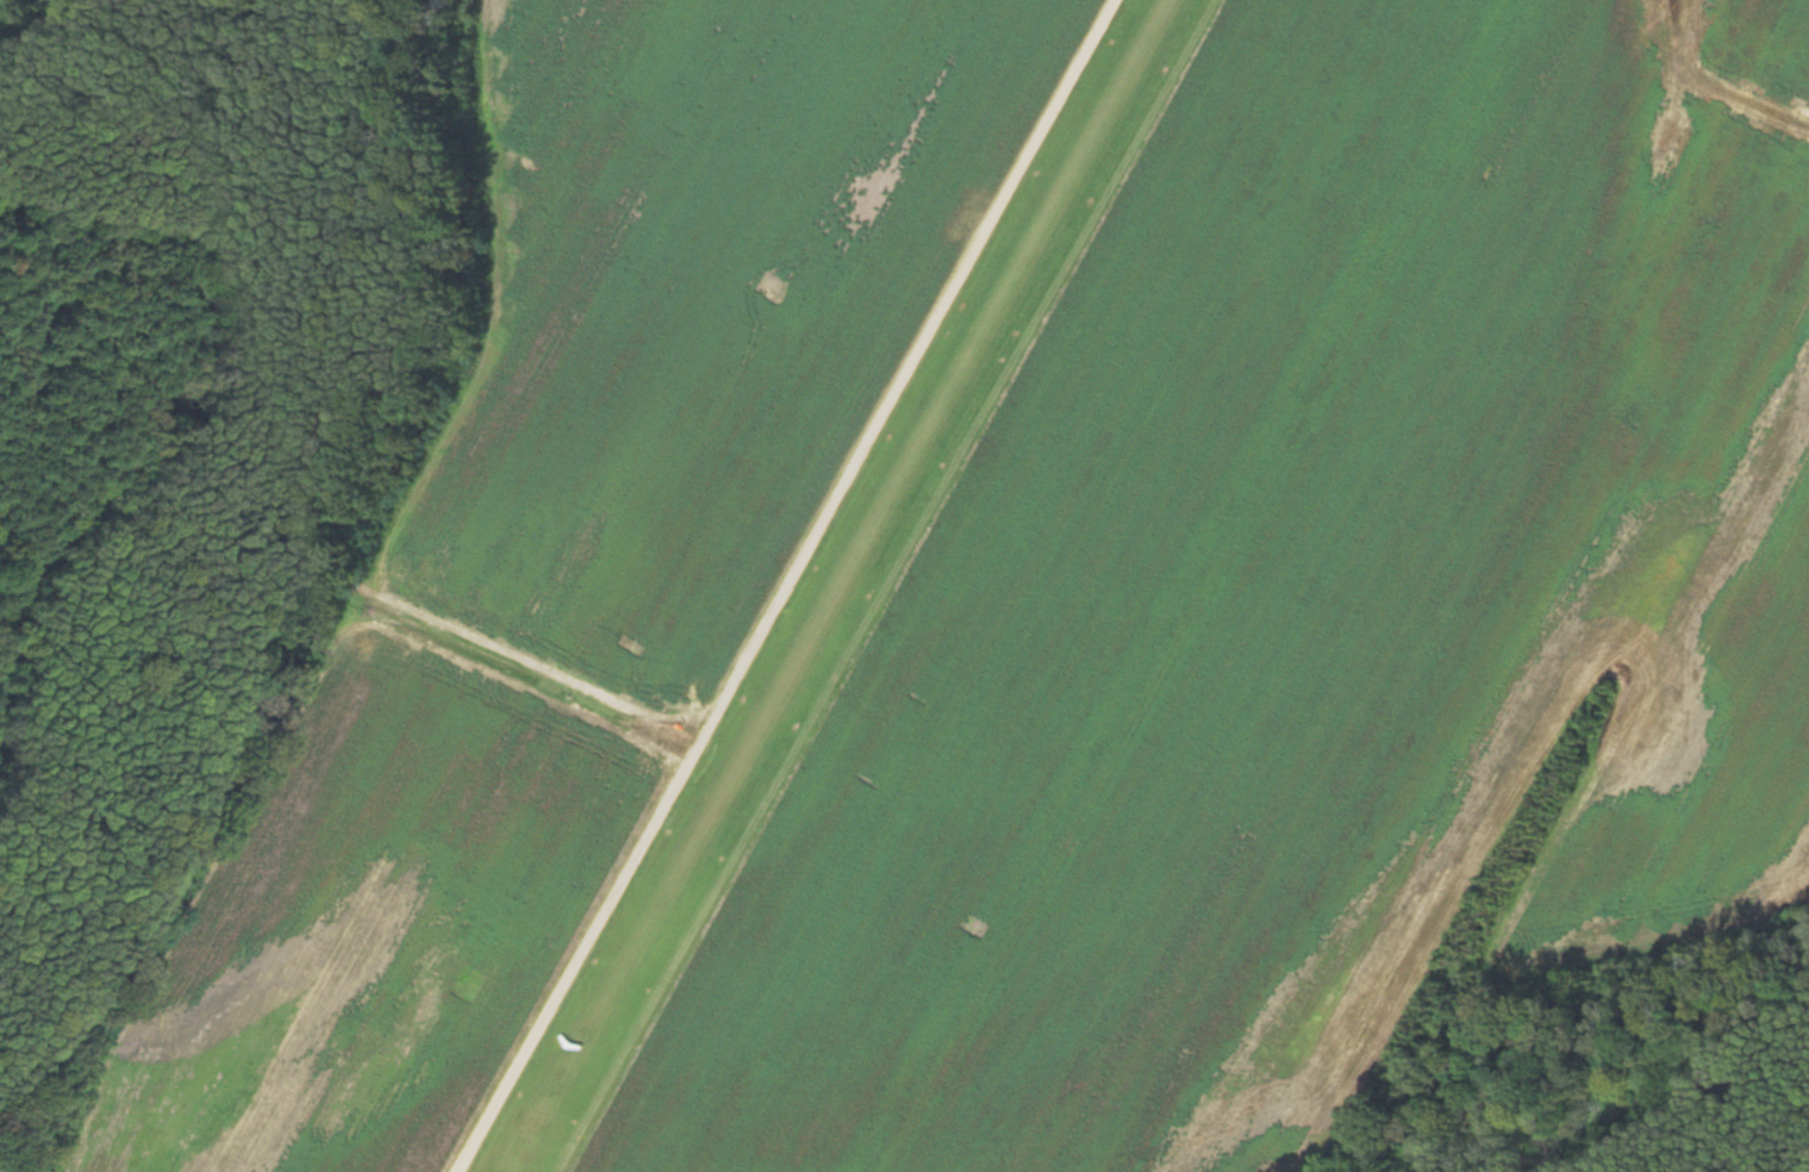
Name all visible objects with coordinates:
airport runway: (836, 585)
road: (787, 586)

